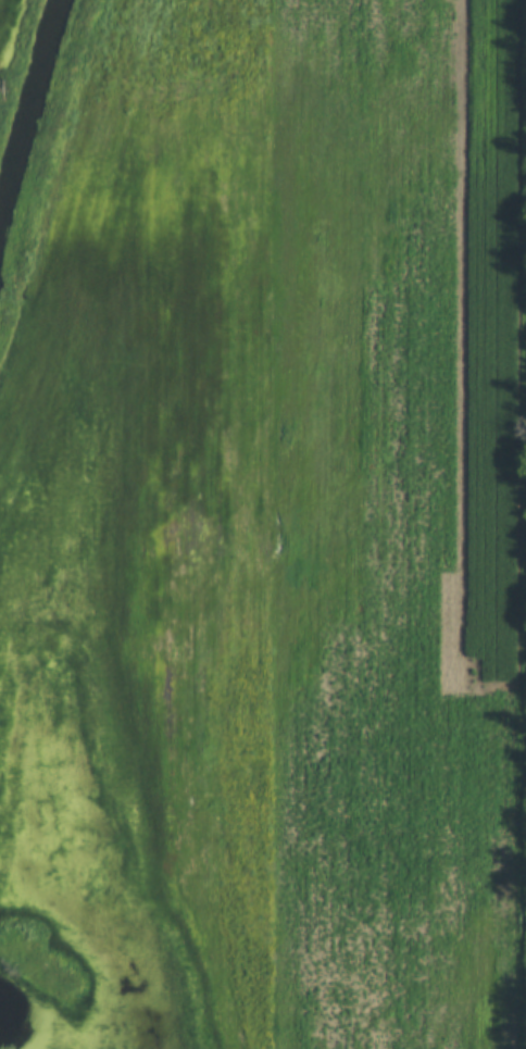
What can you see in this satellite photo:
crop: (8, 17)
crop: (300, 502)

